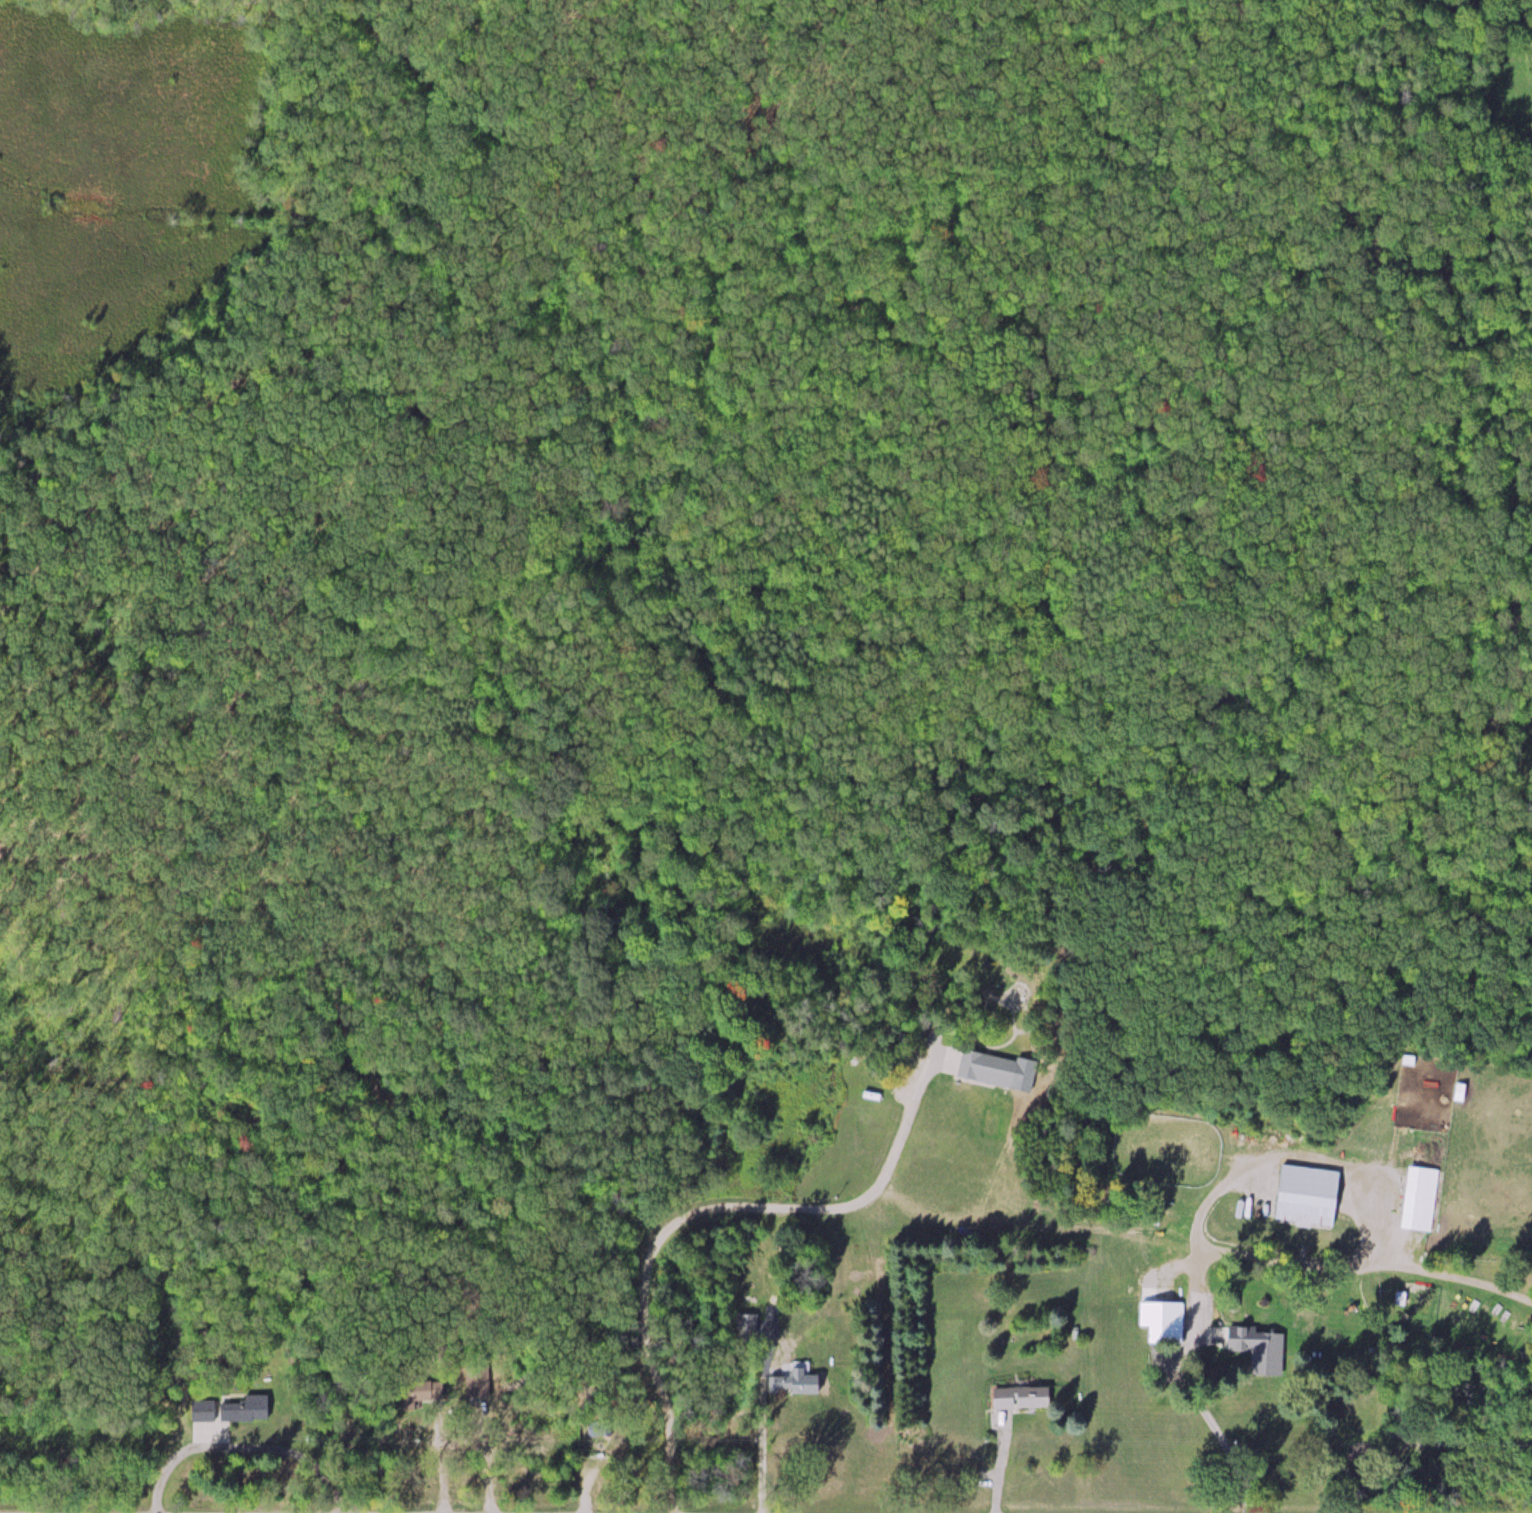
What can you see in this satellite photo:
building: (990, 1068)
building: (1461, 1091)
building: (1311, 1195)
building: (1422, 1198)
road: (701, 1211)
building: (748, 1314)
building: (1168, 1322)
building: (1262, 1349)
building: (810, 1382)
building: (429, 1391)
building: (1023, 1398)
building: (248, 1410)
building: (205, 1411)
road: (763, 1420)

